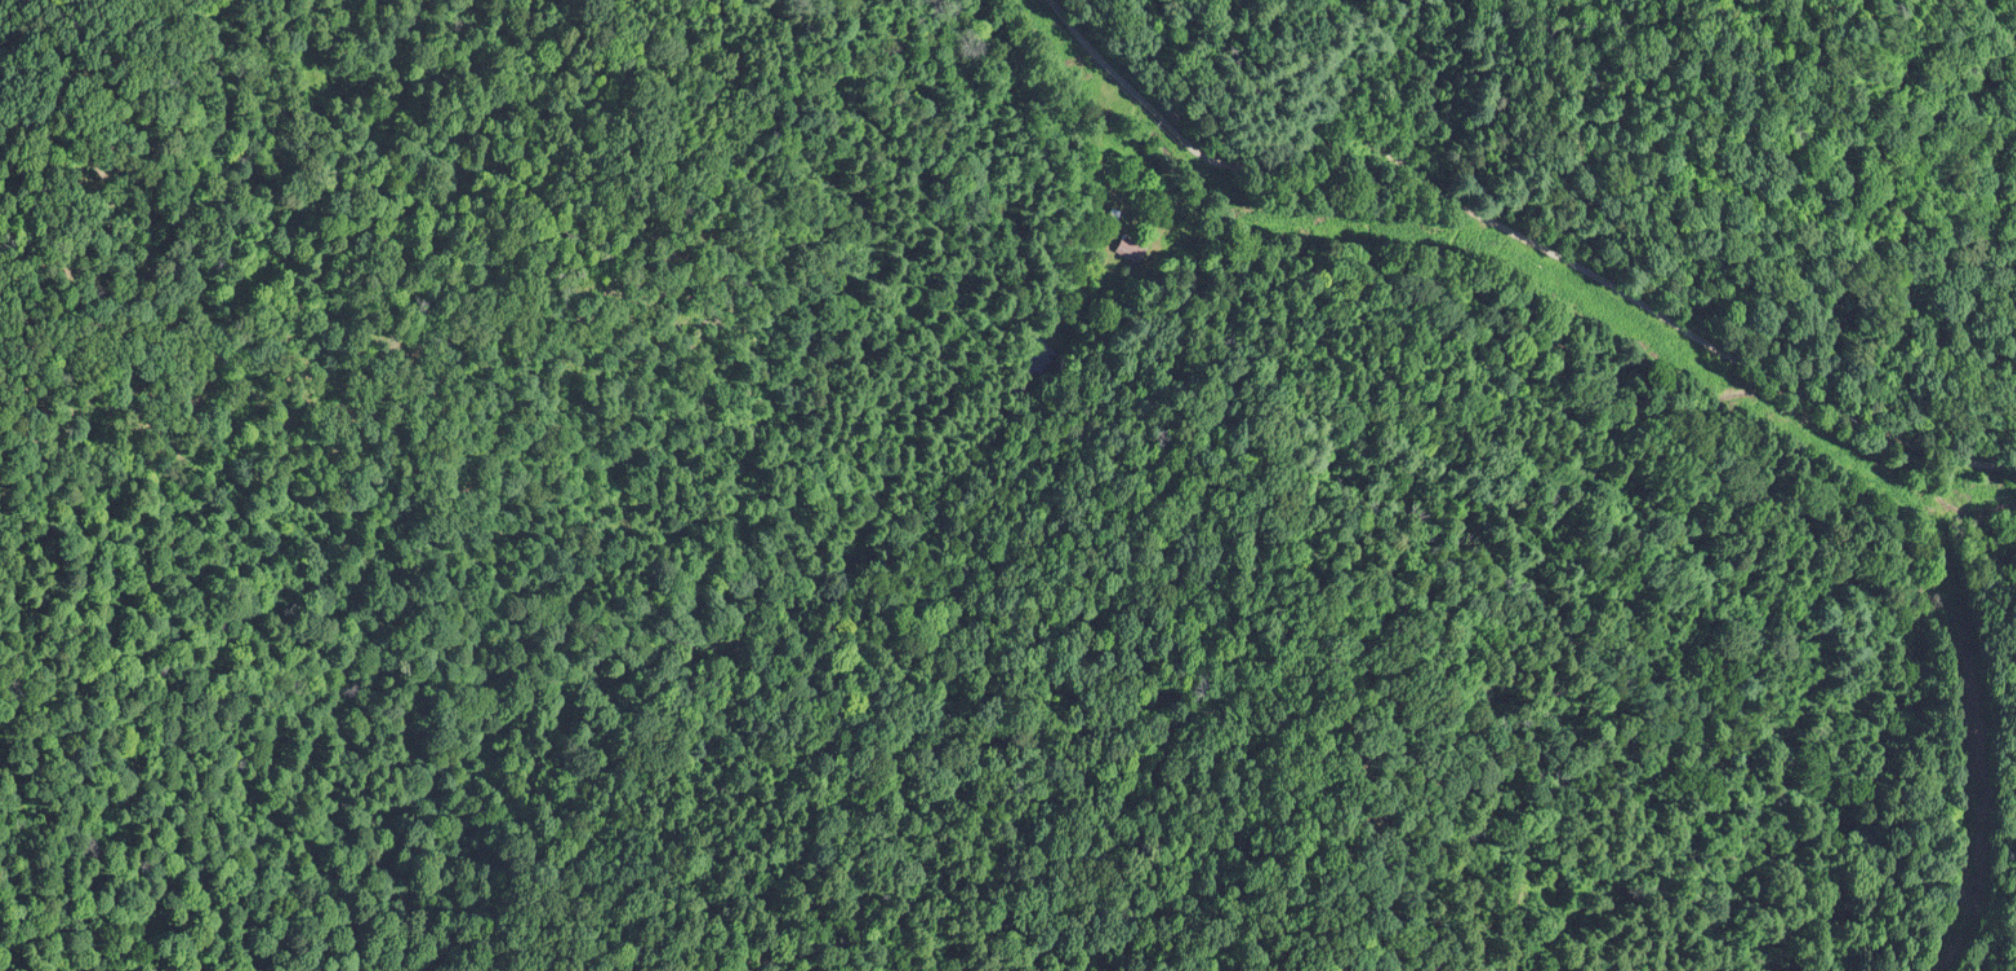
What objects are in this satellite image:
road: (1518, 232)

